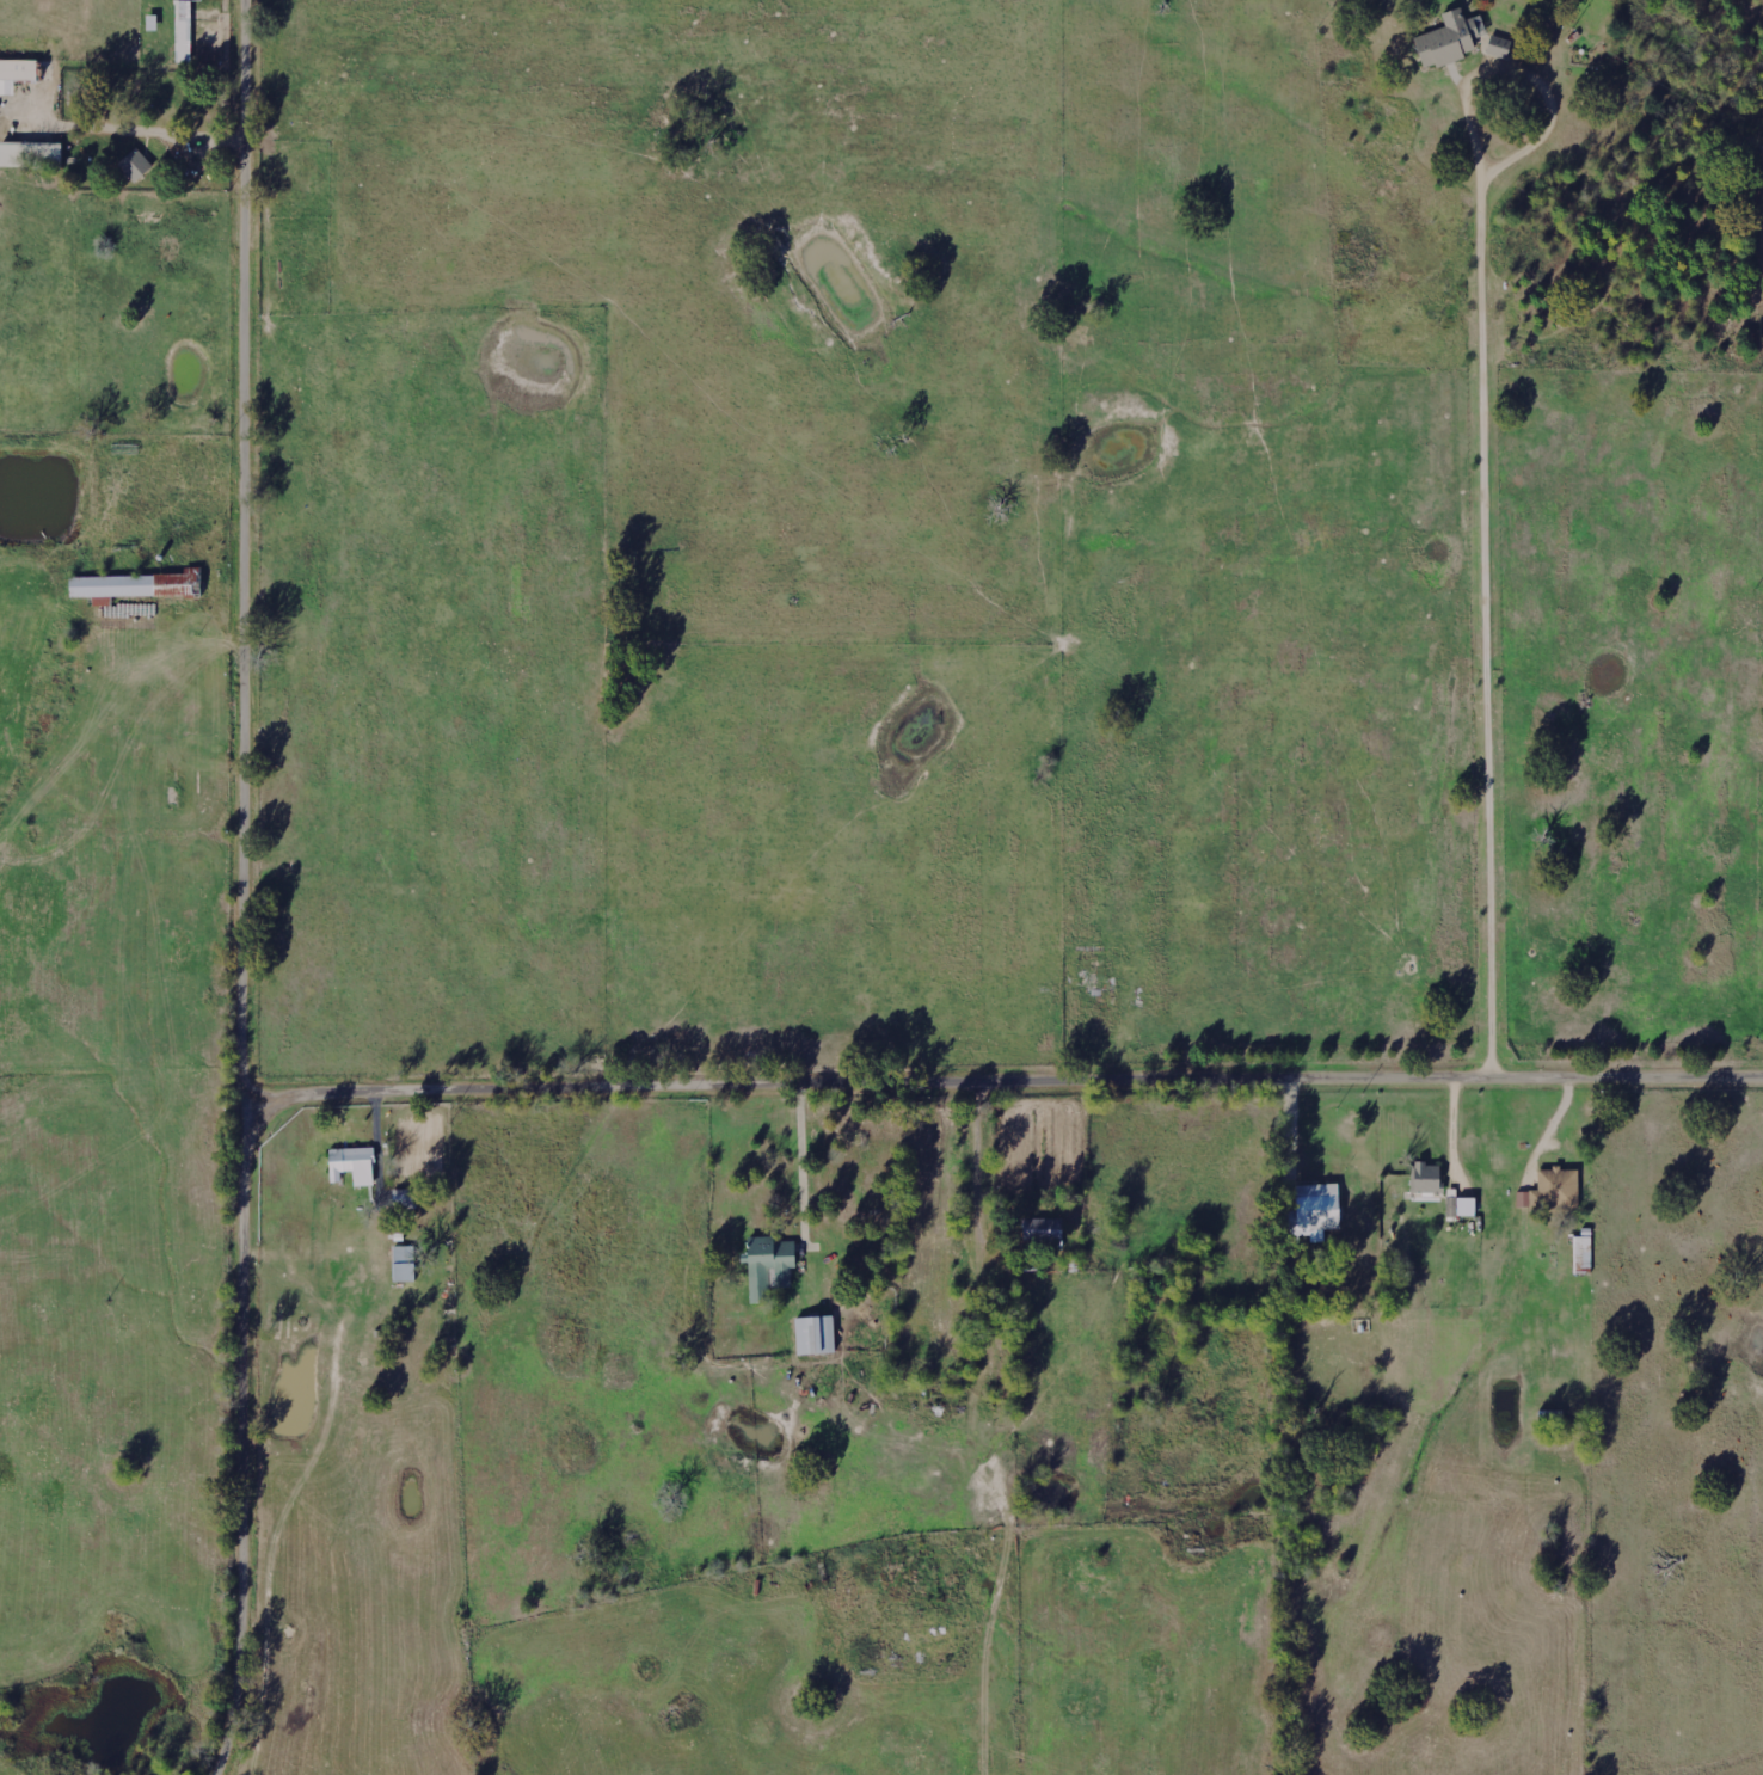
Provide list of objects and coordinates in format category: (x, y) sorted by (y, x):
building: (184, 31)
building: (1449, 39)
building: (1498, 44)
building: (16, 73)
building: (30, 156)
building: (135, 164)
road: (254, 575)
building: (136, 585)
road: (682, 1087)
building: (352, 1165)
building: (1425, 1177)
building: (1552, 1190)
building: (404, 1198)
building: (1314, 1211)
building: (1043, 1229)
building: (1583, 1254)
building: (772, 1258)
building: (404, 1263)
building: (815, 1334)

